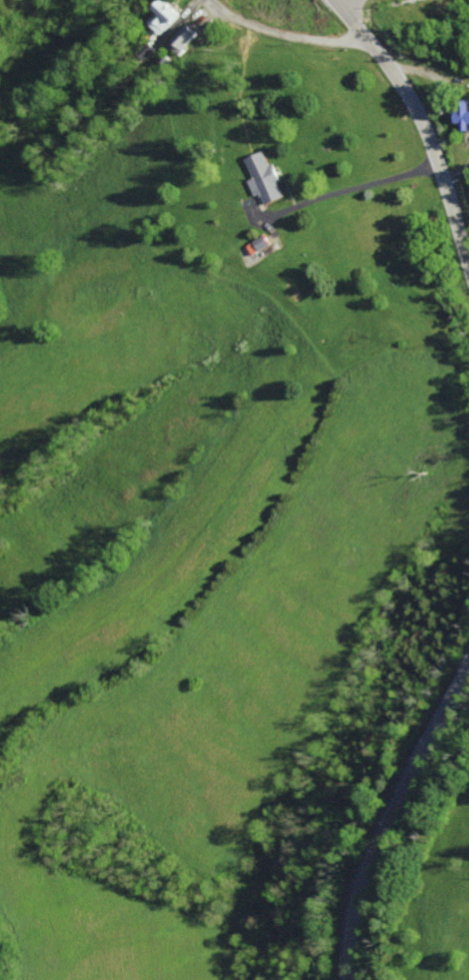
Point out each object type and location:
building: (166, 16)
road: (352, 18)
road: (286, 34)
building: (187, 40)
building: (149, 52)
building: (466, 114)
road: (429, 137)
building: (267, 178)
building: (263, 245)
road: (392, 817)

